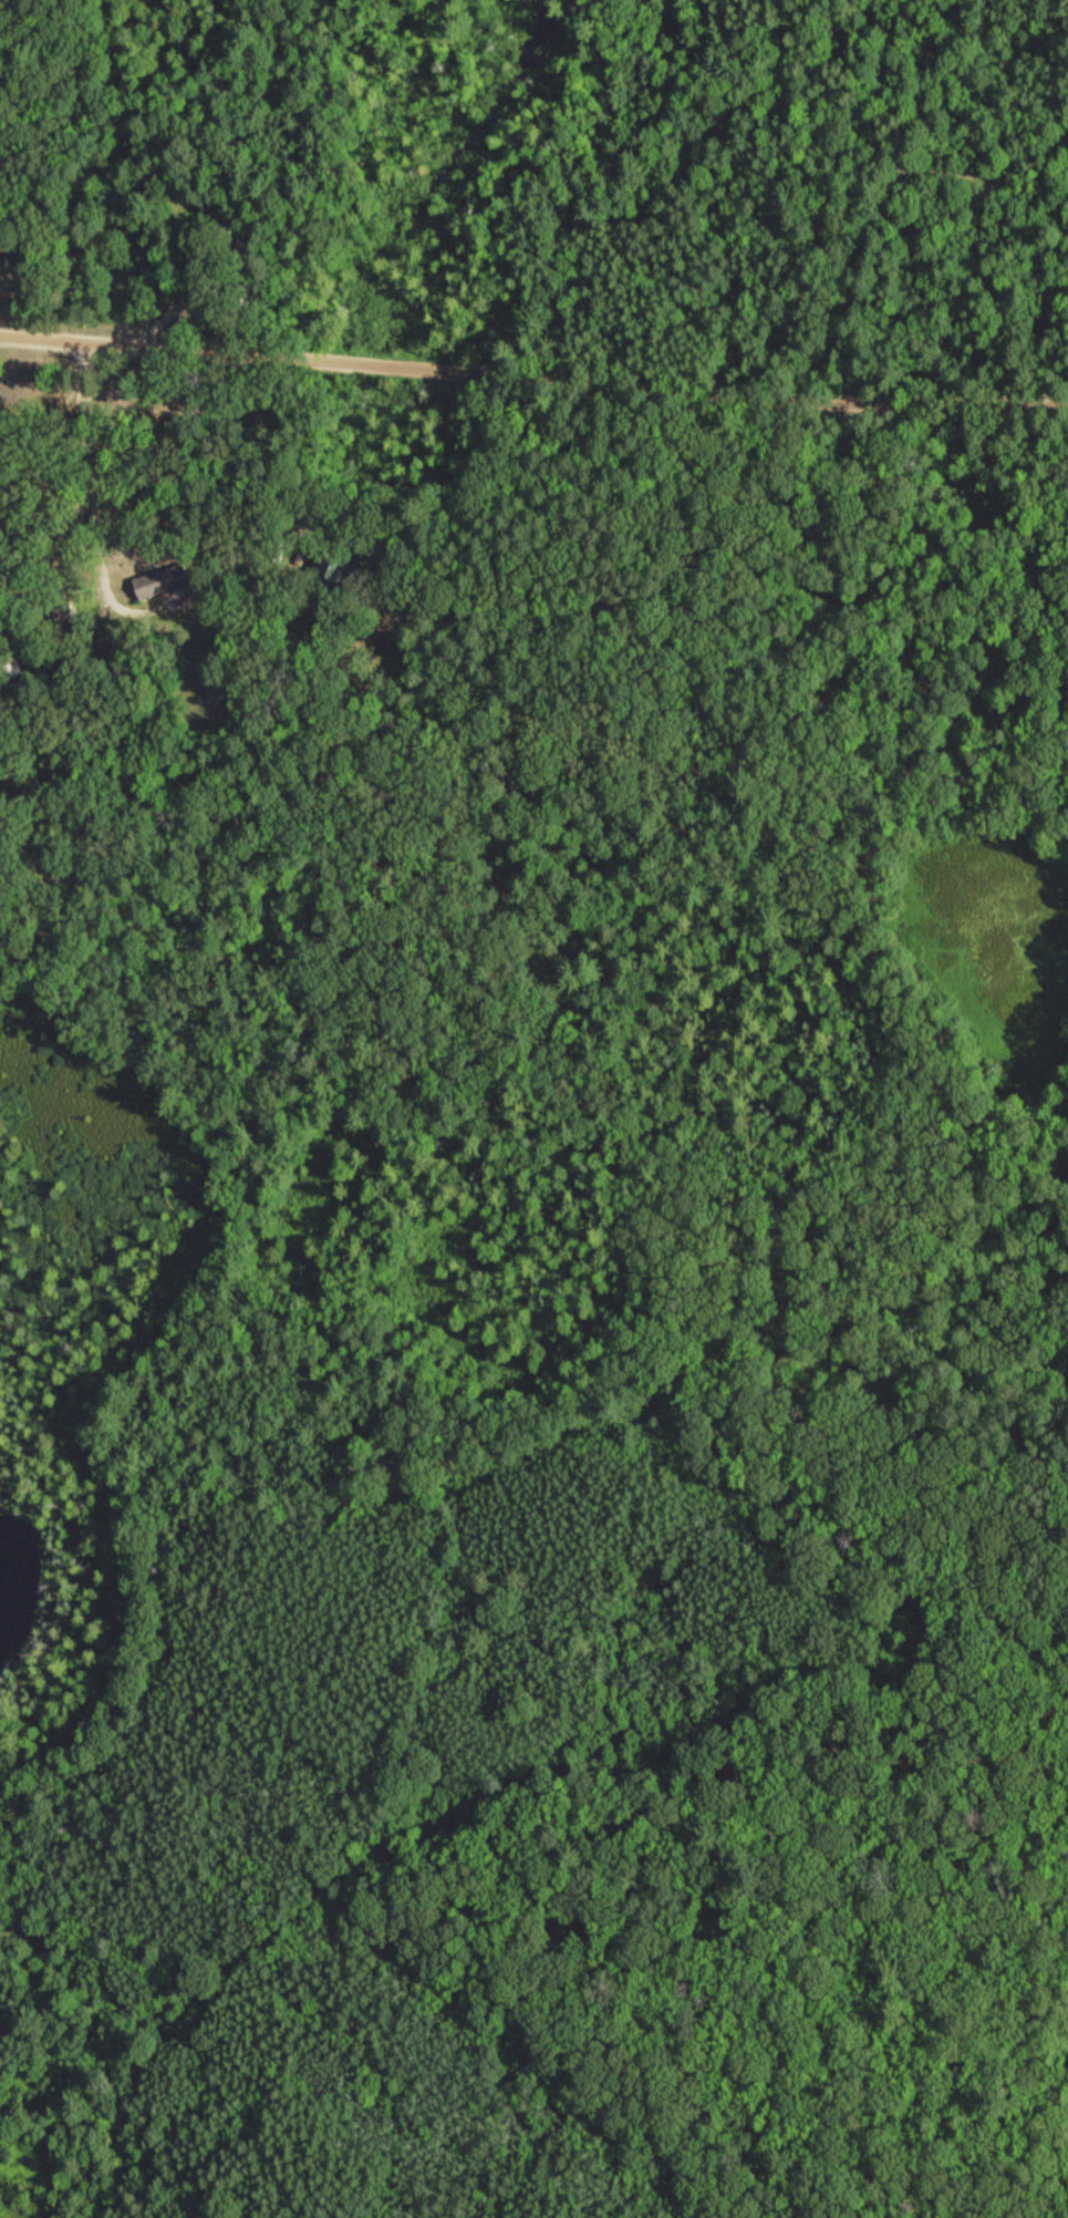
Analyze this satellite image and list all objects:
building: (215, 252)
road: (533, 376)
building: (7, 711)

